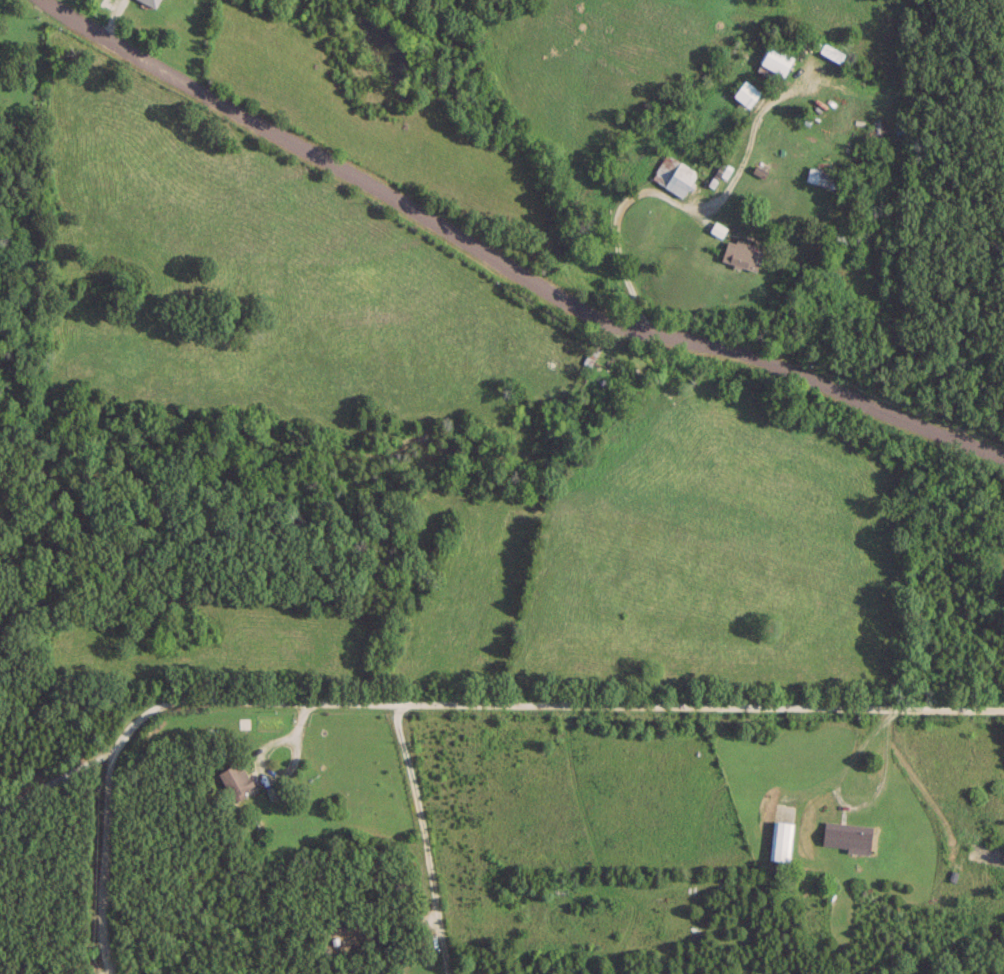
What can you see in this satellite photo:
building: (150, 2)
building: (777, 57)
building: (746, 93)
building: (673, 175)
building: (819, 176)
road: (681, 206)
building: (741, 253)
road: (508, 266)
building: (590, 353)
road: (436, 703)
building: (235, 779)
road: (841, 802)
building: (846, 834)
road: (423, 837)
building: (780, 838)

